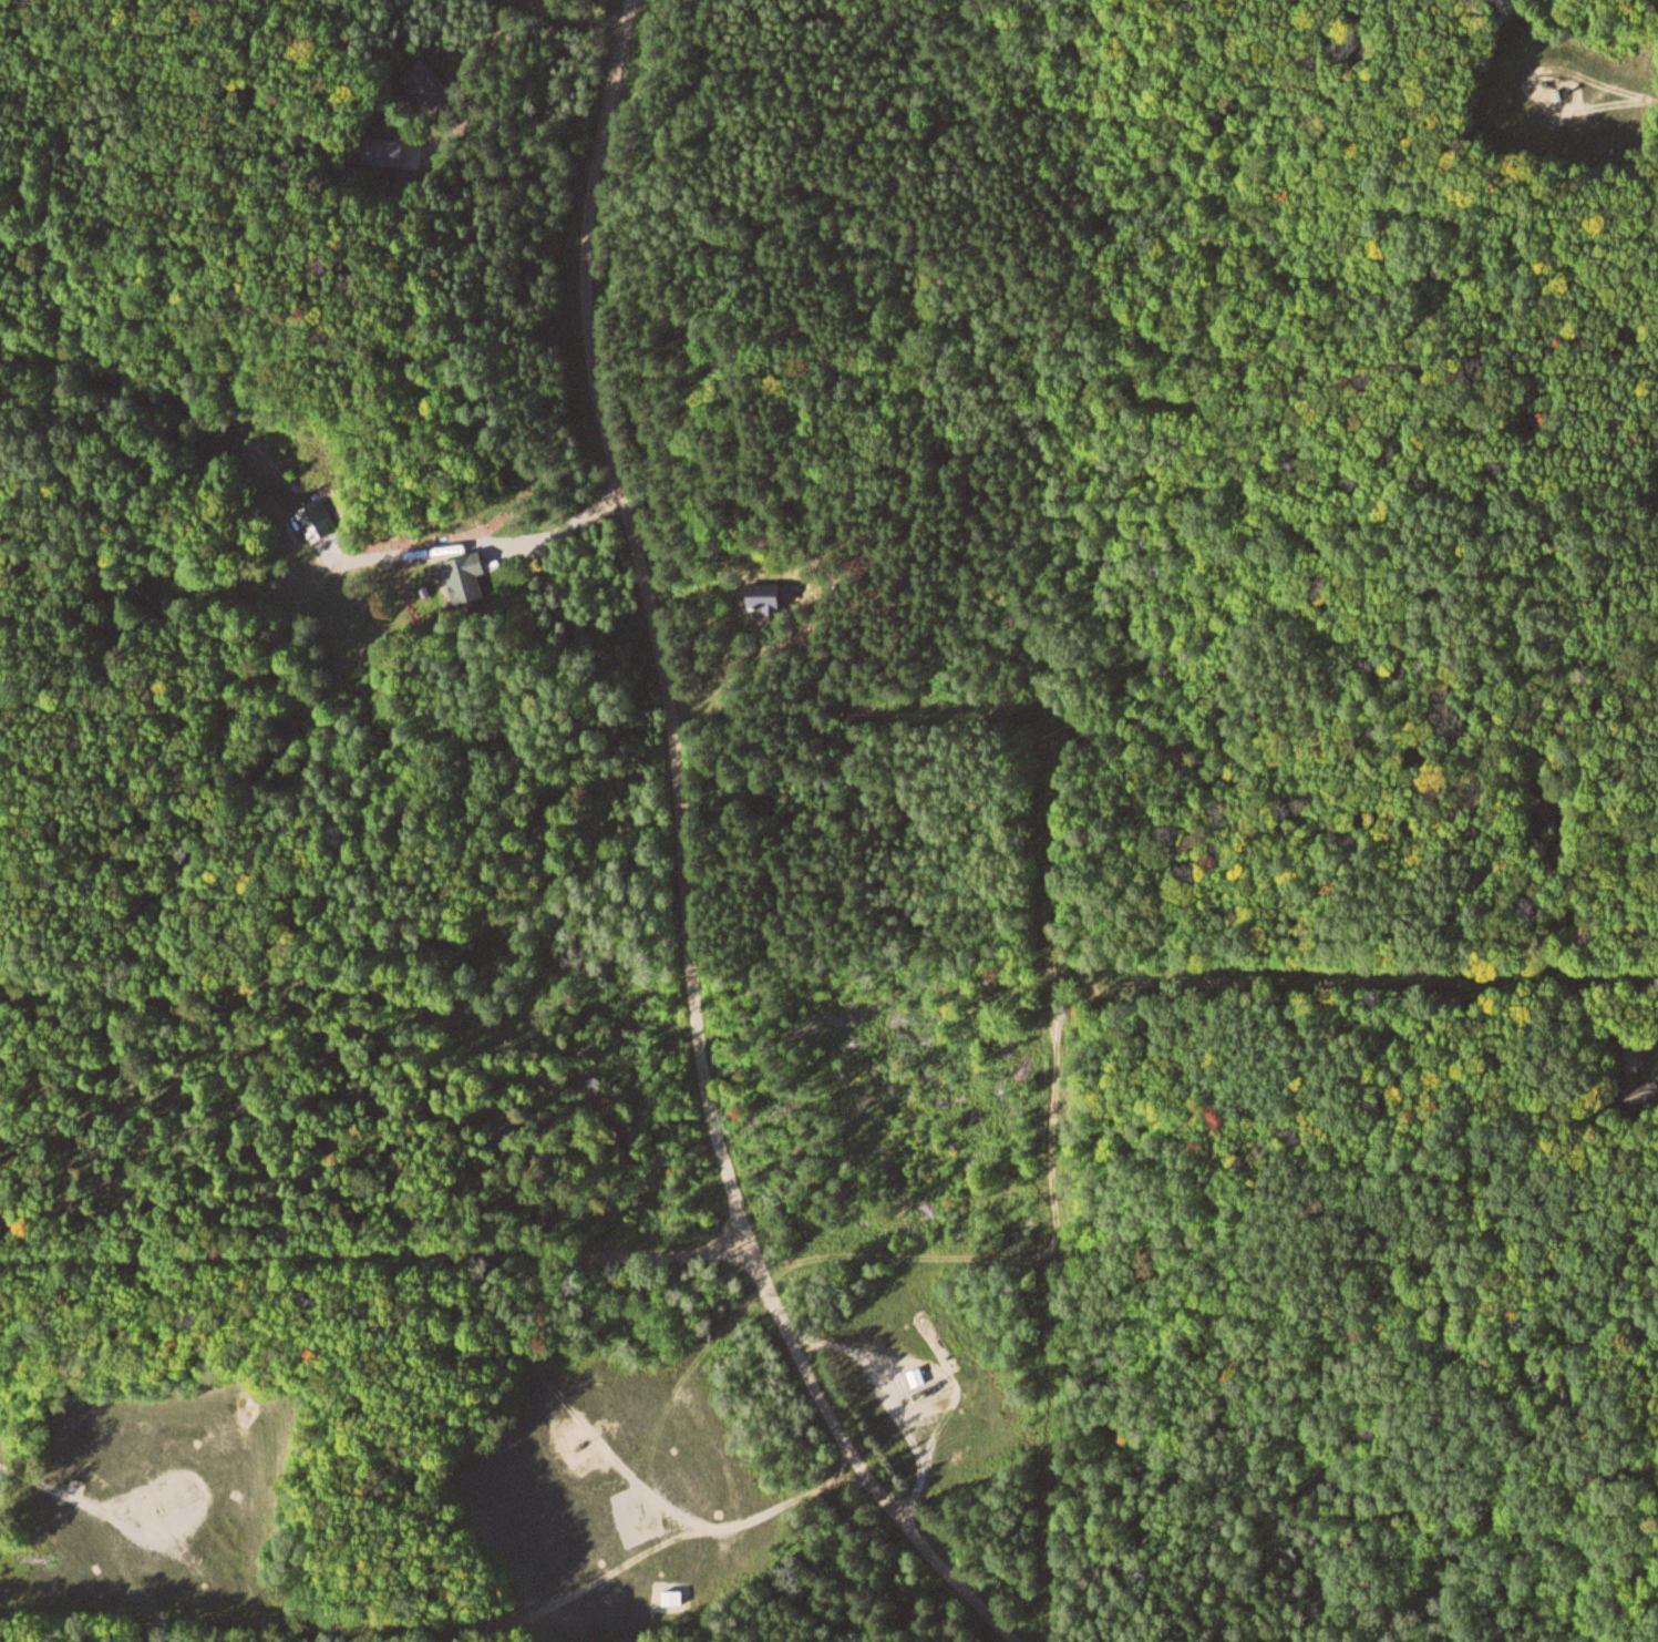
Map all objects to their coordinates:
road: (560, 20)
road: (1526, 83)
road: (1656, 92)
building: (394, 152)
building: (463, 577)
building: (759, 593)
road: (686, 860)
building: (1630, 1056)
road: (940, 1219)
petroleum well: (915, 1390)
petroleum well: (580, 1446)
road: (59, 1491)
petroleum well: (166, 1504)
building: (178, 1519)
road: (168, 1583)
building: (671, 1595)

